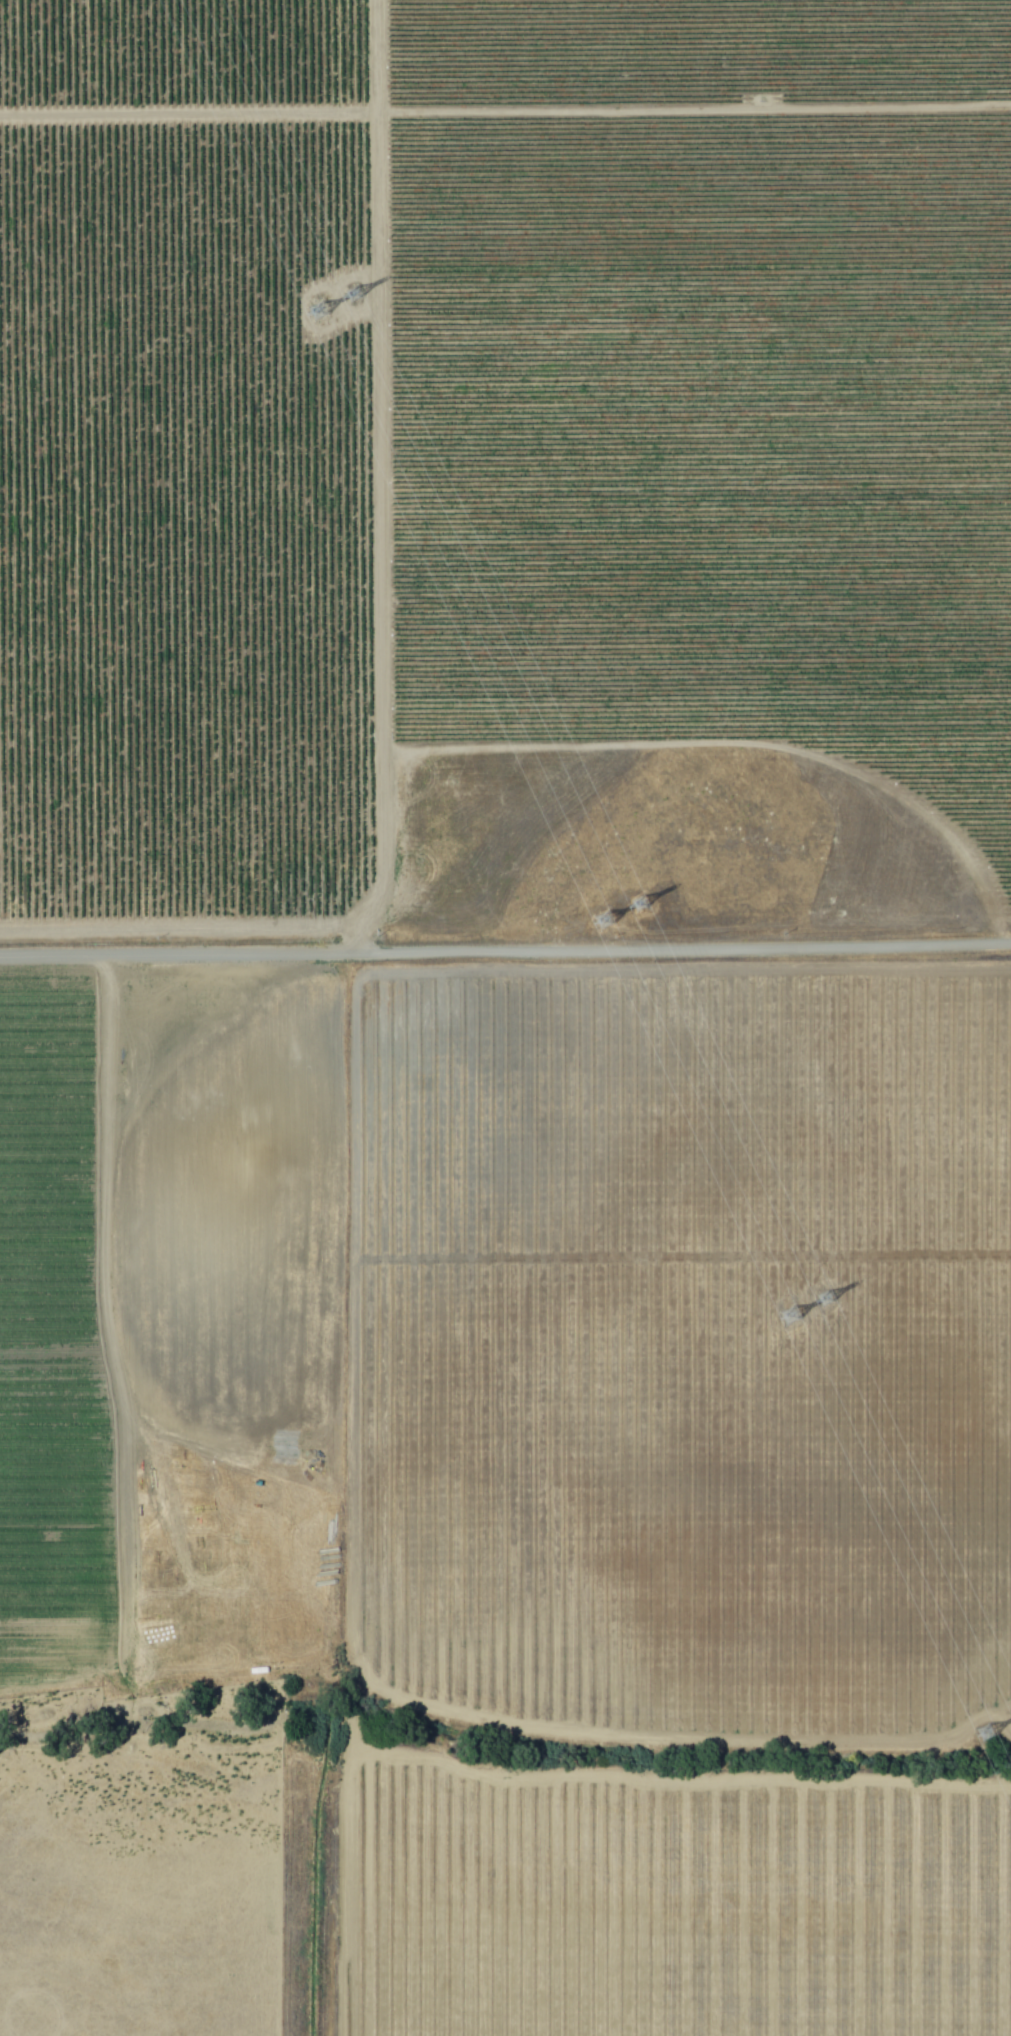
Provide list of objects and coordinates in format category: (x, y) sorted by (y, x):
power tower: (349, 296)
power tower: (315, 312)
road: (381, 481)
power tower: (636, 904)
power tower: (601, 921)
road: (505, 958)
power tower: (823, 1297)
power tower: (786, 1314)
power tower: (982, 1733)

